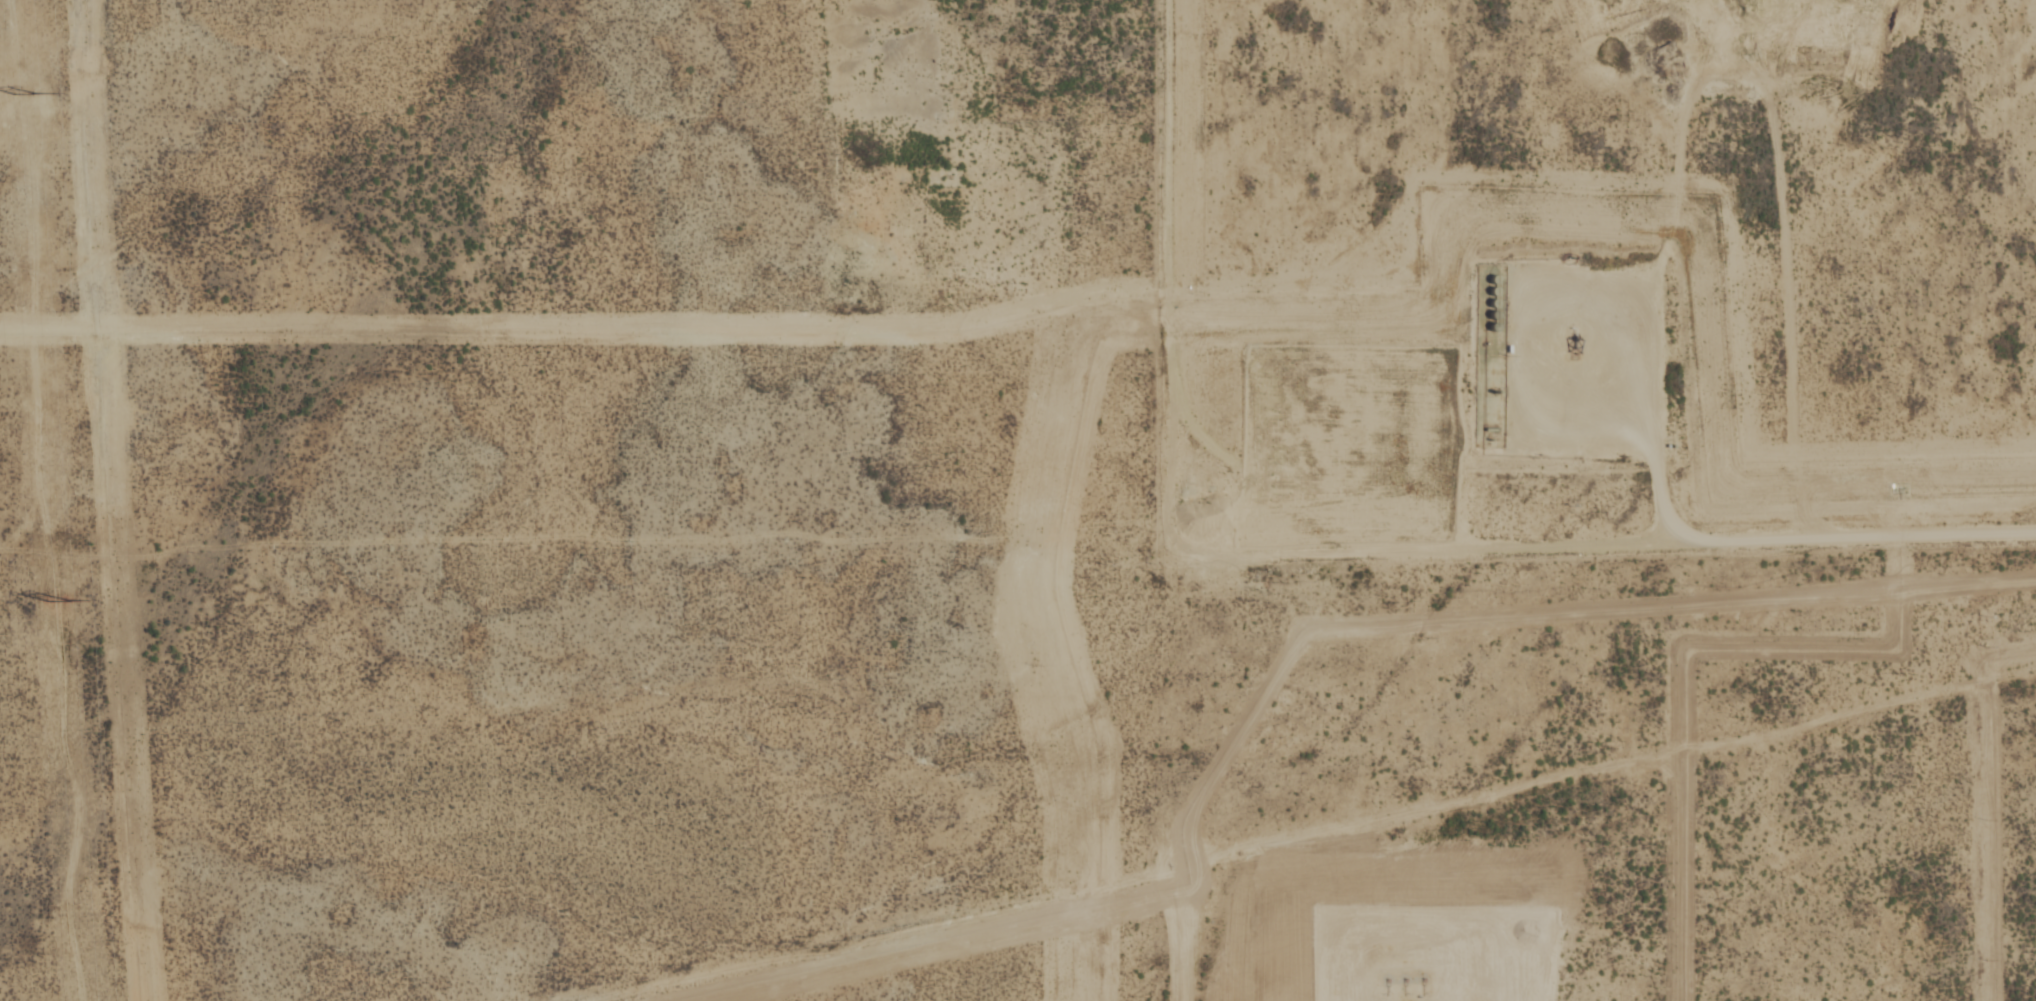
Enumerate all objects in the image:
power tower: (18, 91)
road: (1168, 199)
road: (1649, 381)
road: (1345, 454)
road: (1481, 539)
power tower: (49, 601)
road: (1390, 949)

